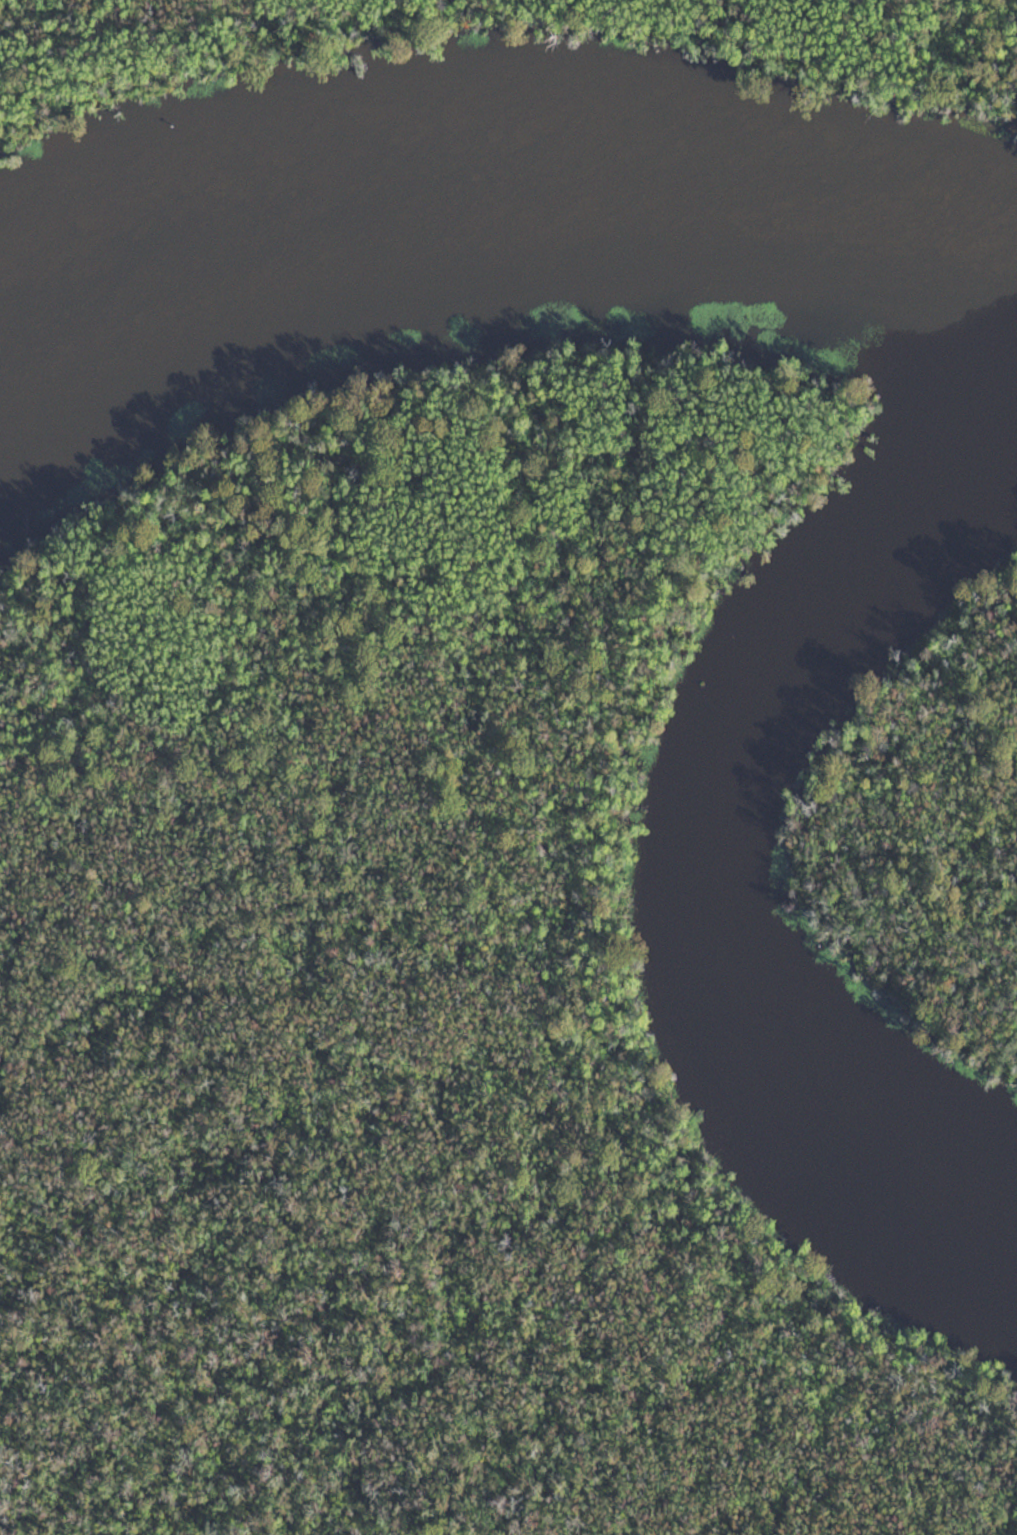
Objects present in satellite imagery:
river: (498, 183)

